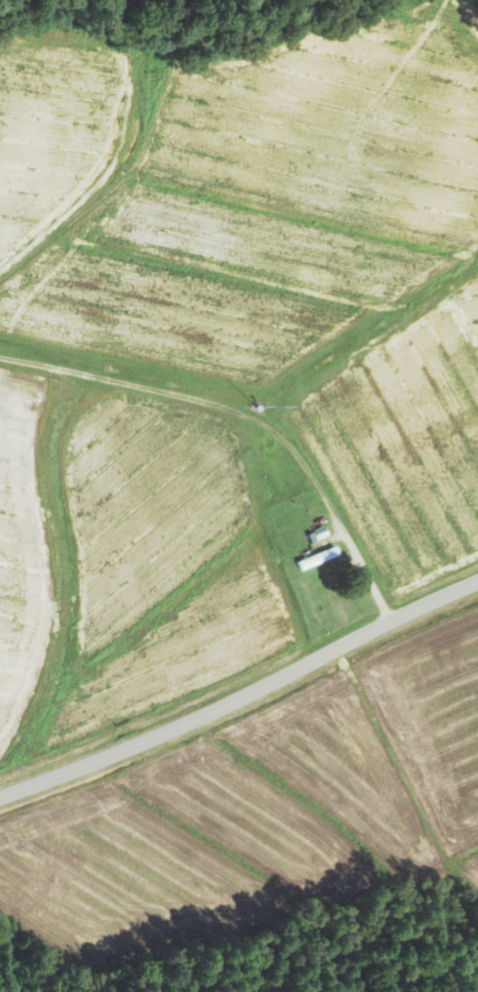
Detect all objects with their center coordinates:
building: (319, 534)
road: (366, 579)
road: (240, 696)

